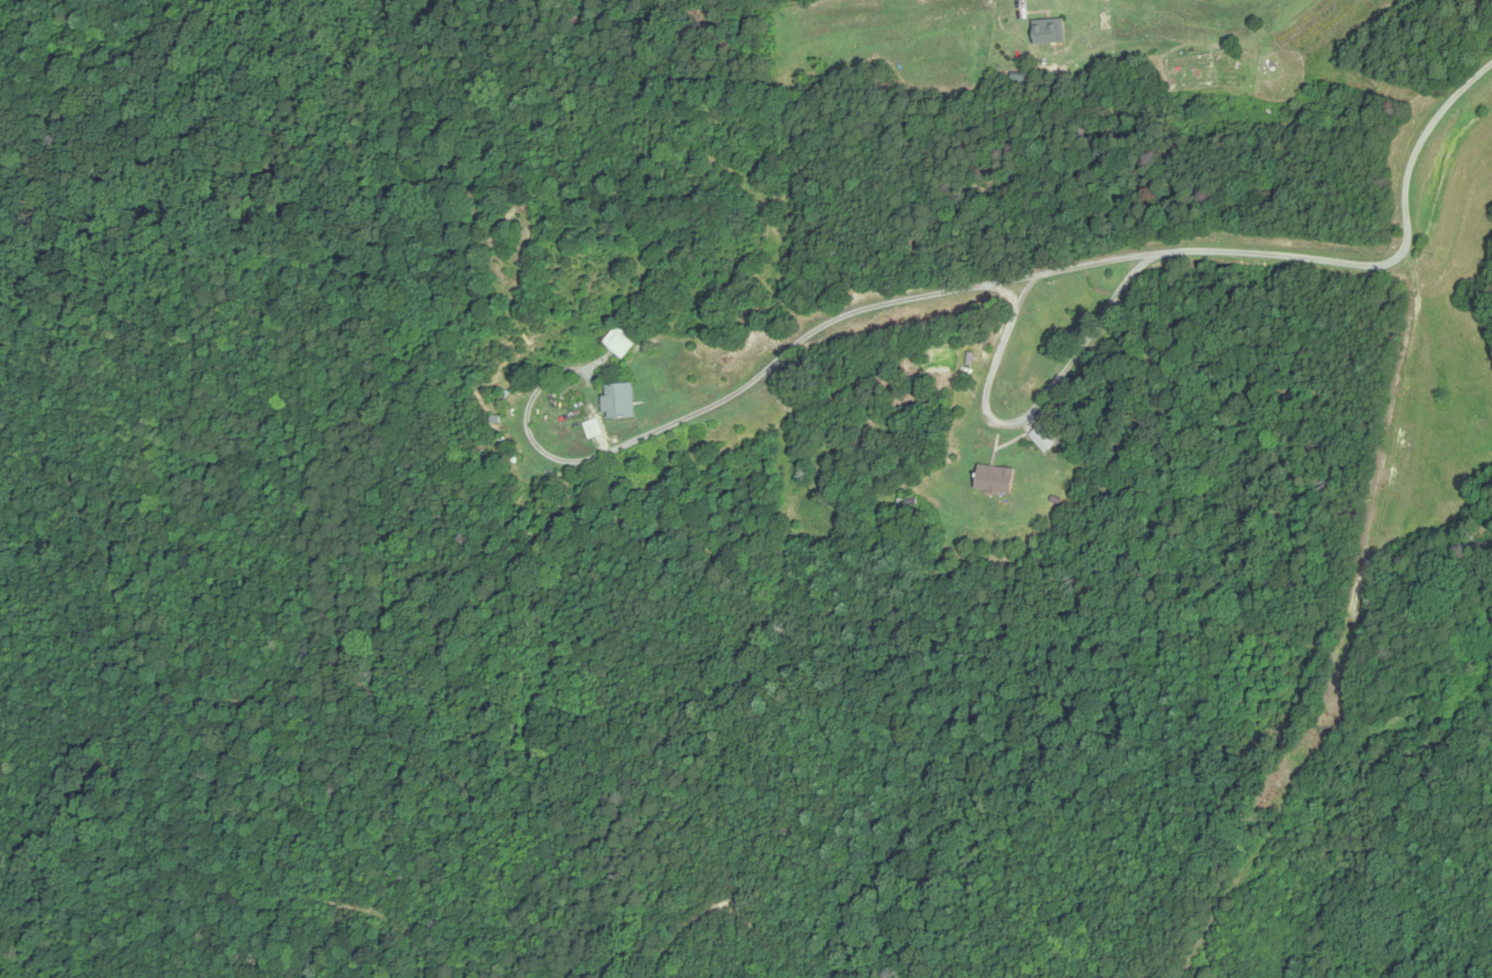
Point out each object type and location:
building: (1051, 32)
road: (965, 289)
road: (1415, 292)
building: (620, 342)
building: (621, 400)
road: (1025, 414)
building: (1043, 439)
building: (999, 479)

